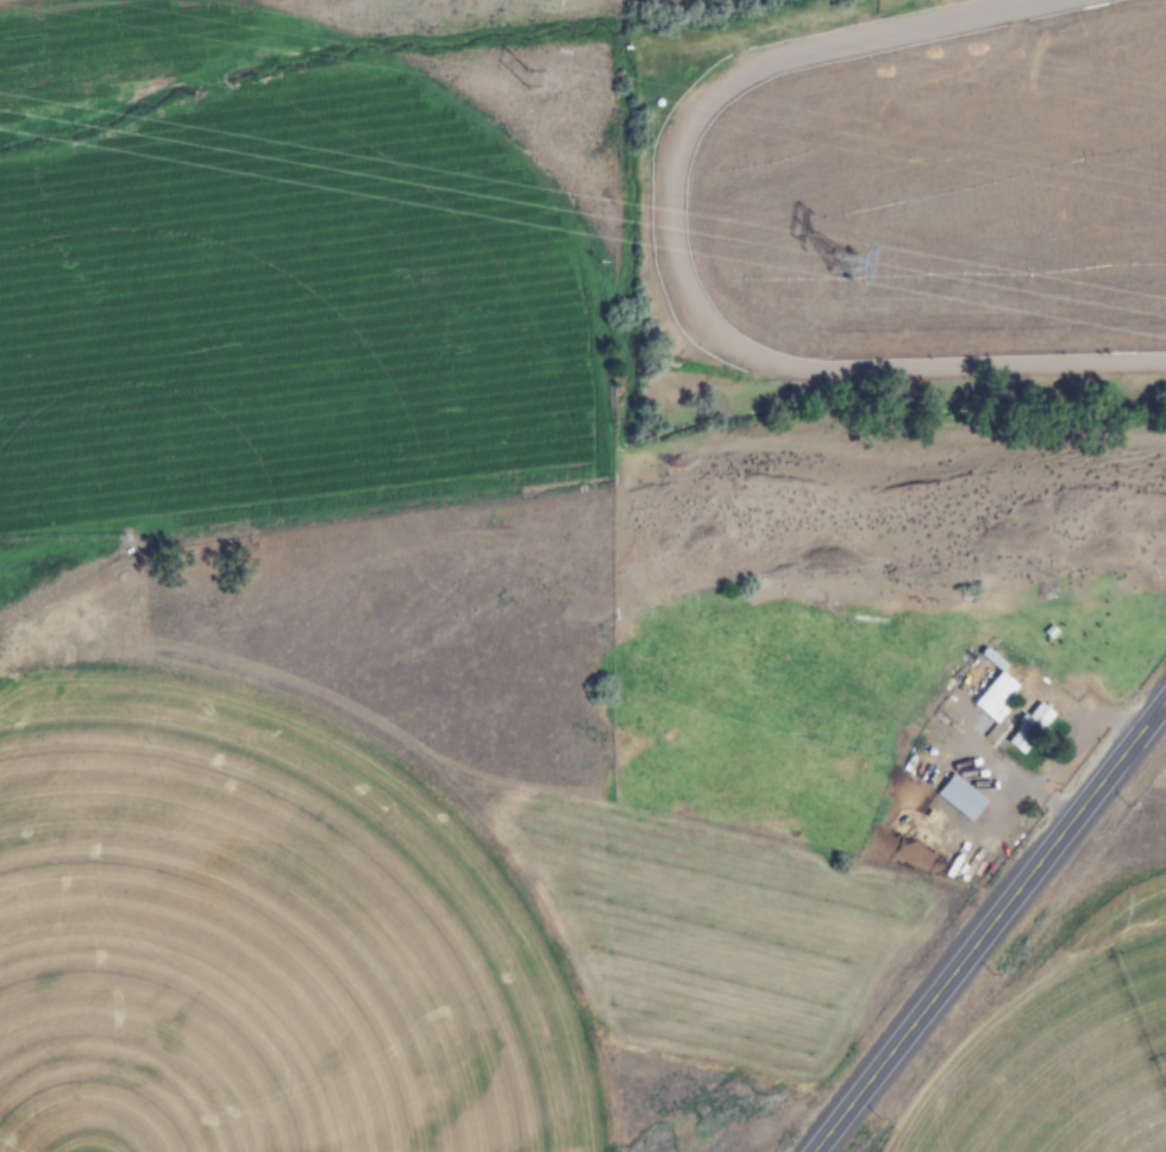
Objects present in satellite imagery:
power tower: (524, 80)
power tower: (835, 264)
building: (992, 695)
building: (1028, 727)
building: (958, 796)
road: (986, 924)

